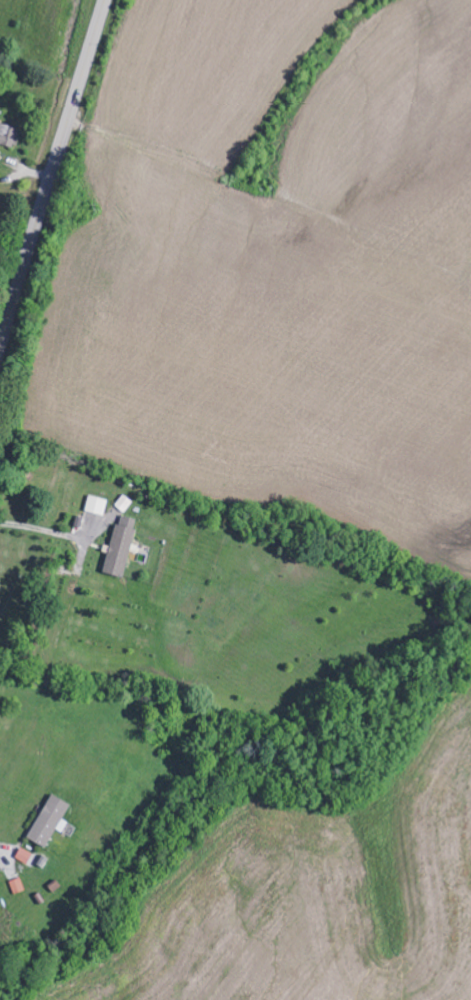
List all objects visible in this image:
building: (9, 135)
road: (52, 172)
building: (125, 503)
building: (97, 505)
building: (121, 545)
building: (50, 821)
building: (25, 856)
building: (17, 885)

